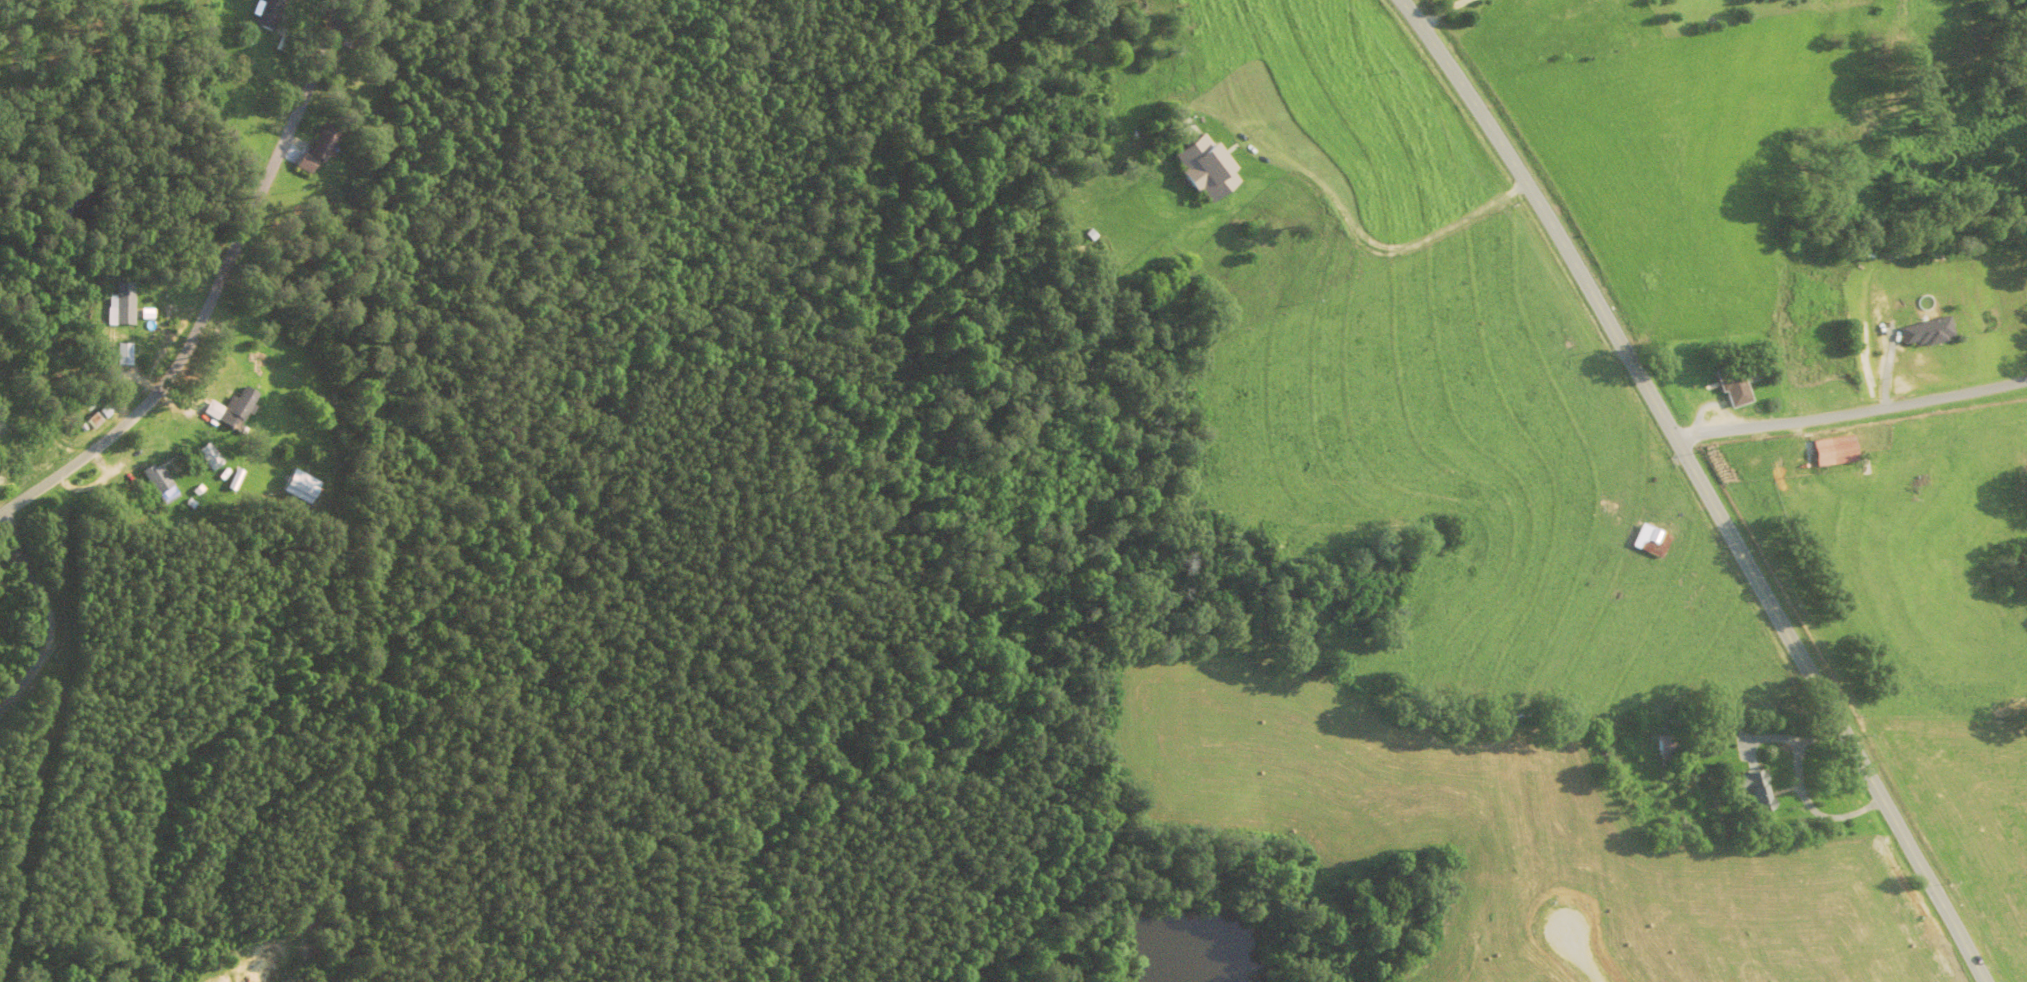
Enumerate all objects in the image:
road: (1443, 12)
building: (268, 14)
building: (358, 40)
building: (321, 151)
building: (1210, 170)
building: (122, 306)
road: (252, 311)
building: (1922, 333)
building: (1729, 386)
building: (239, 411)
road: (1851, 411)
building: (1829, 451)
building: (1, 481)
road: (1702, 483)
building: (303, 489)
building: (1647, 542)
building: (1662, 749)
road: (115, 782)
building: (1747, 791)

